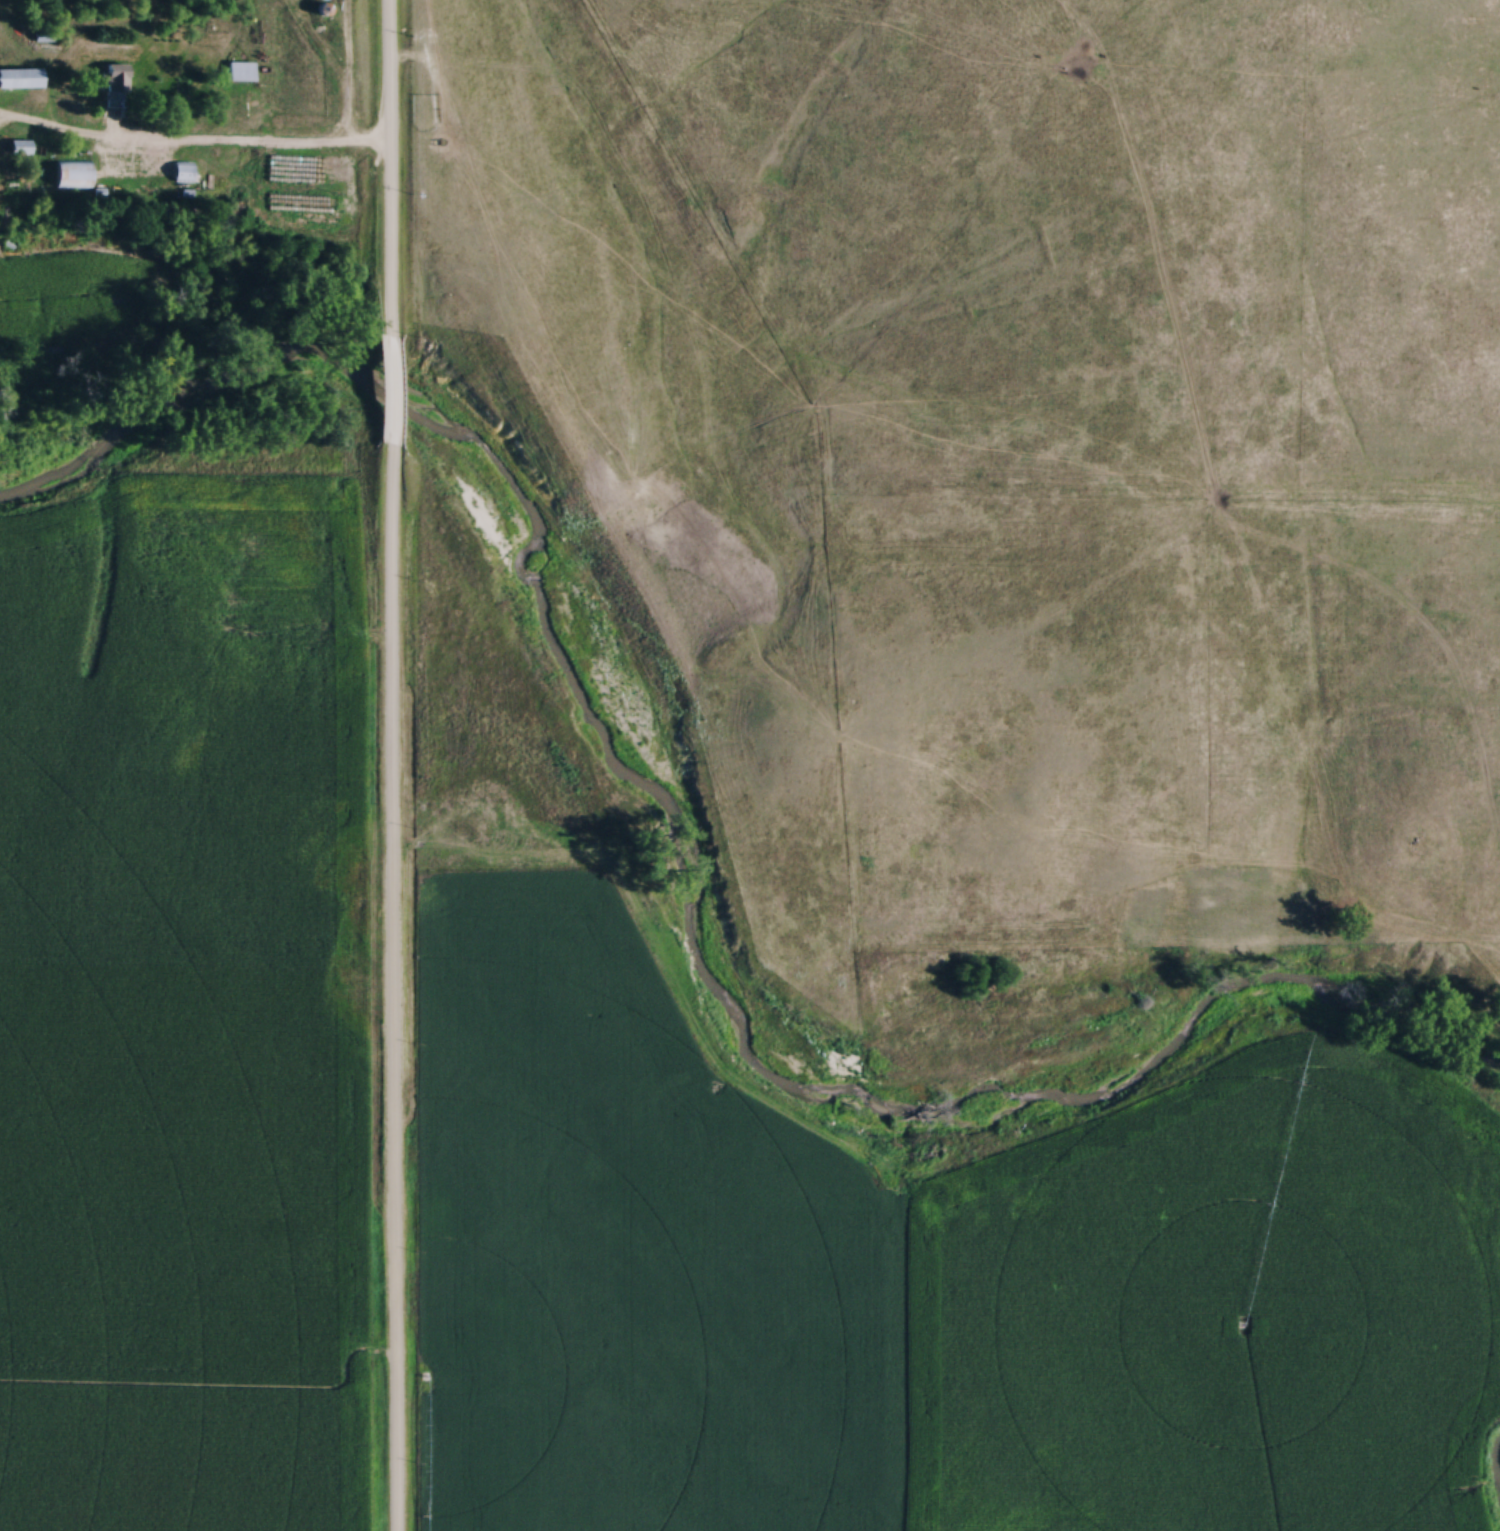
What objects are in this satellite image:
building: (240, 70)
building: (20, 77)
building: (115, 77)
road: (193, 146)
building: (19, 148)
building: (183, 171)
building: (71, 173)
road: (394, 765)

